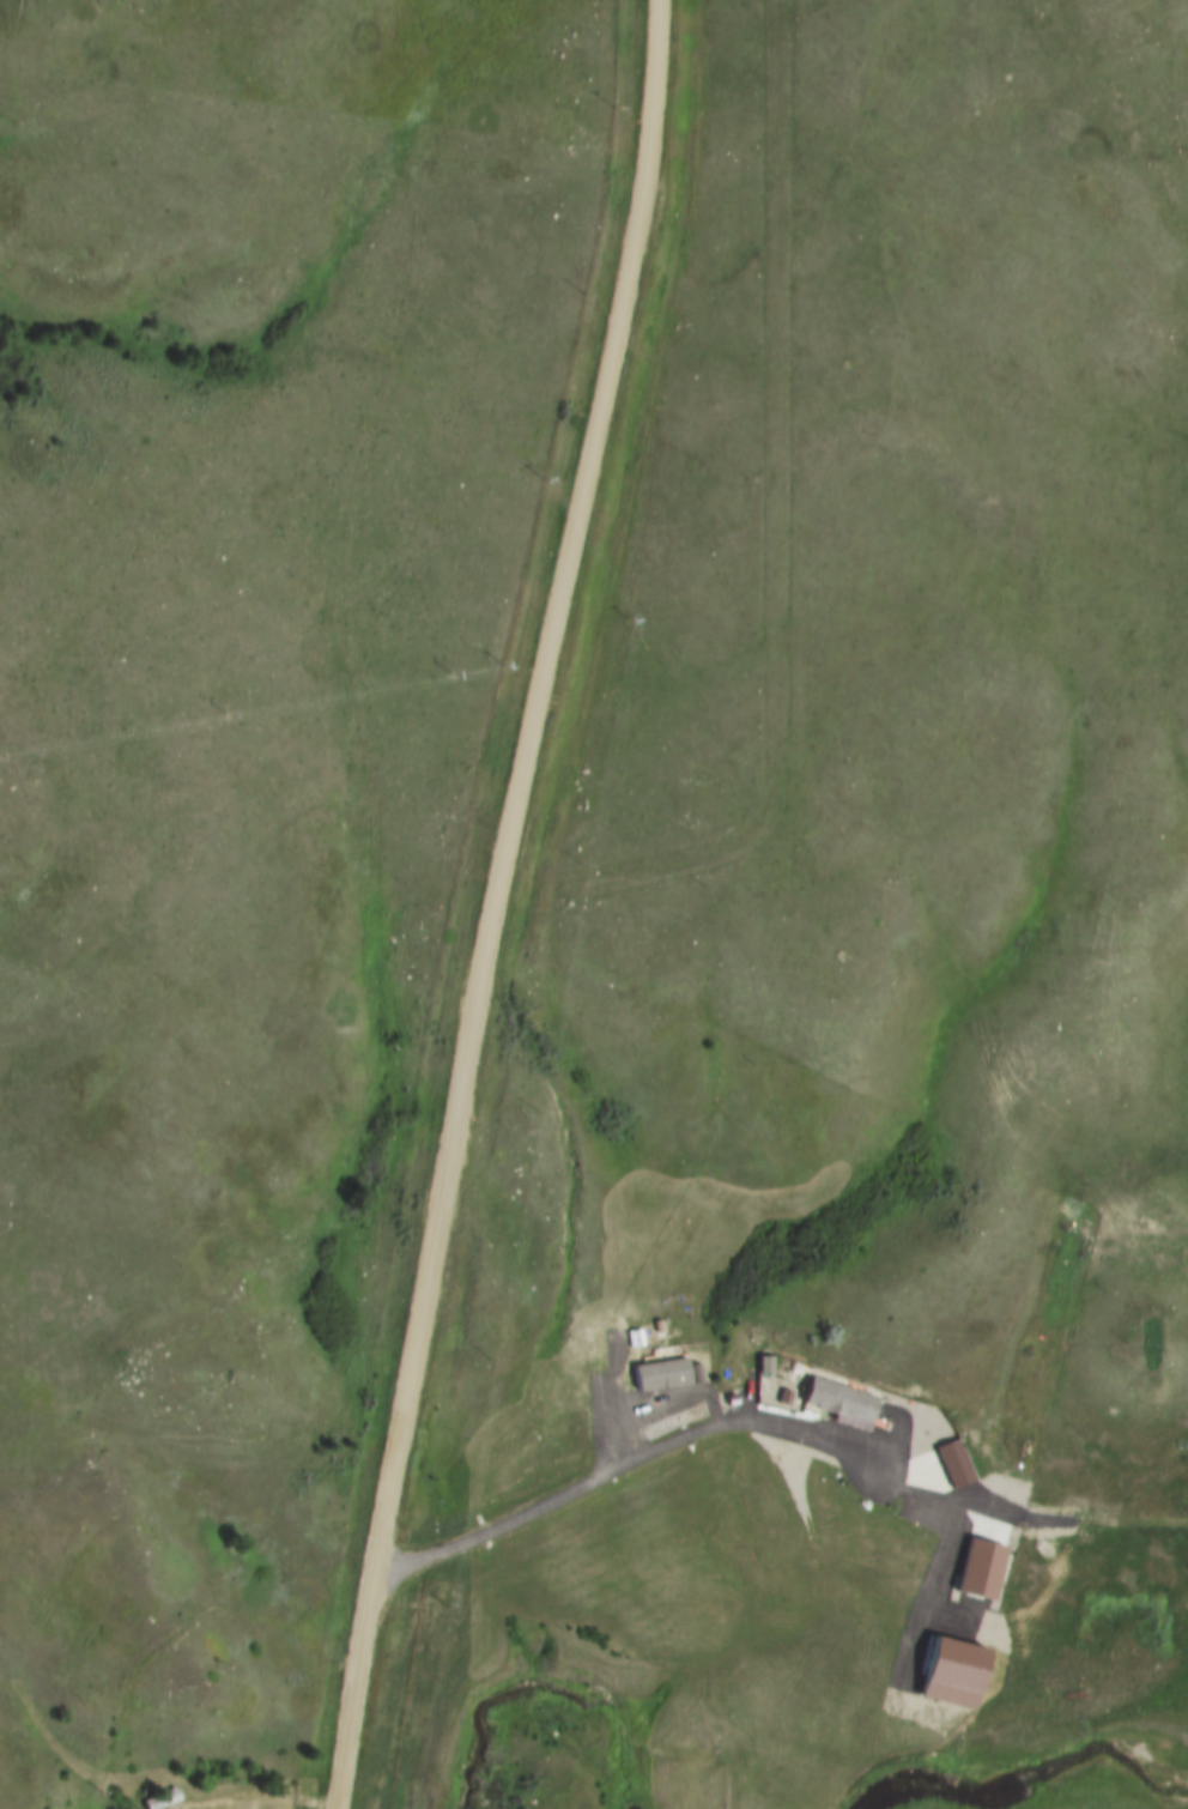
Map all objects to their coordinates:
road: (496, 903)
building: (843, 1398)
road: (713, 1432)
road: (1127, 1526)
building: (165, 1799)

